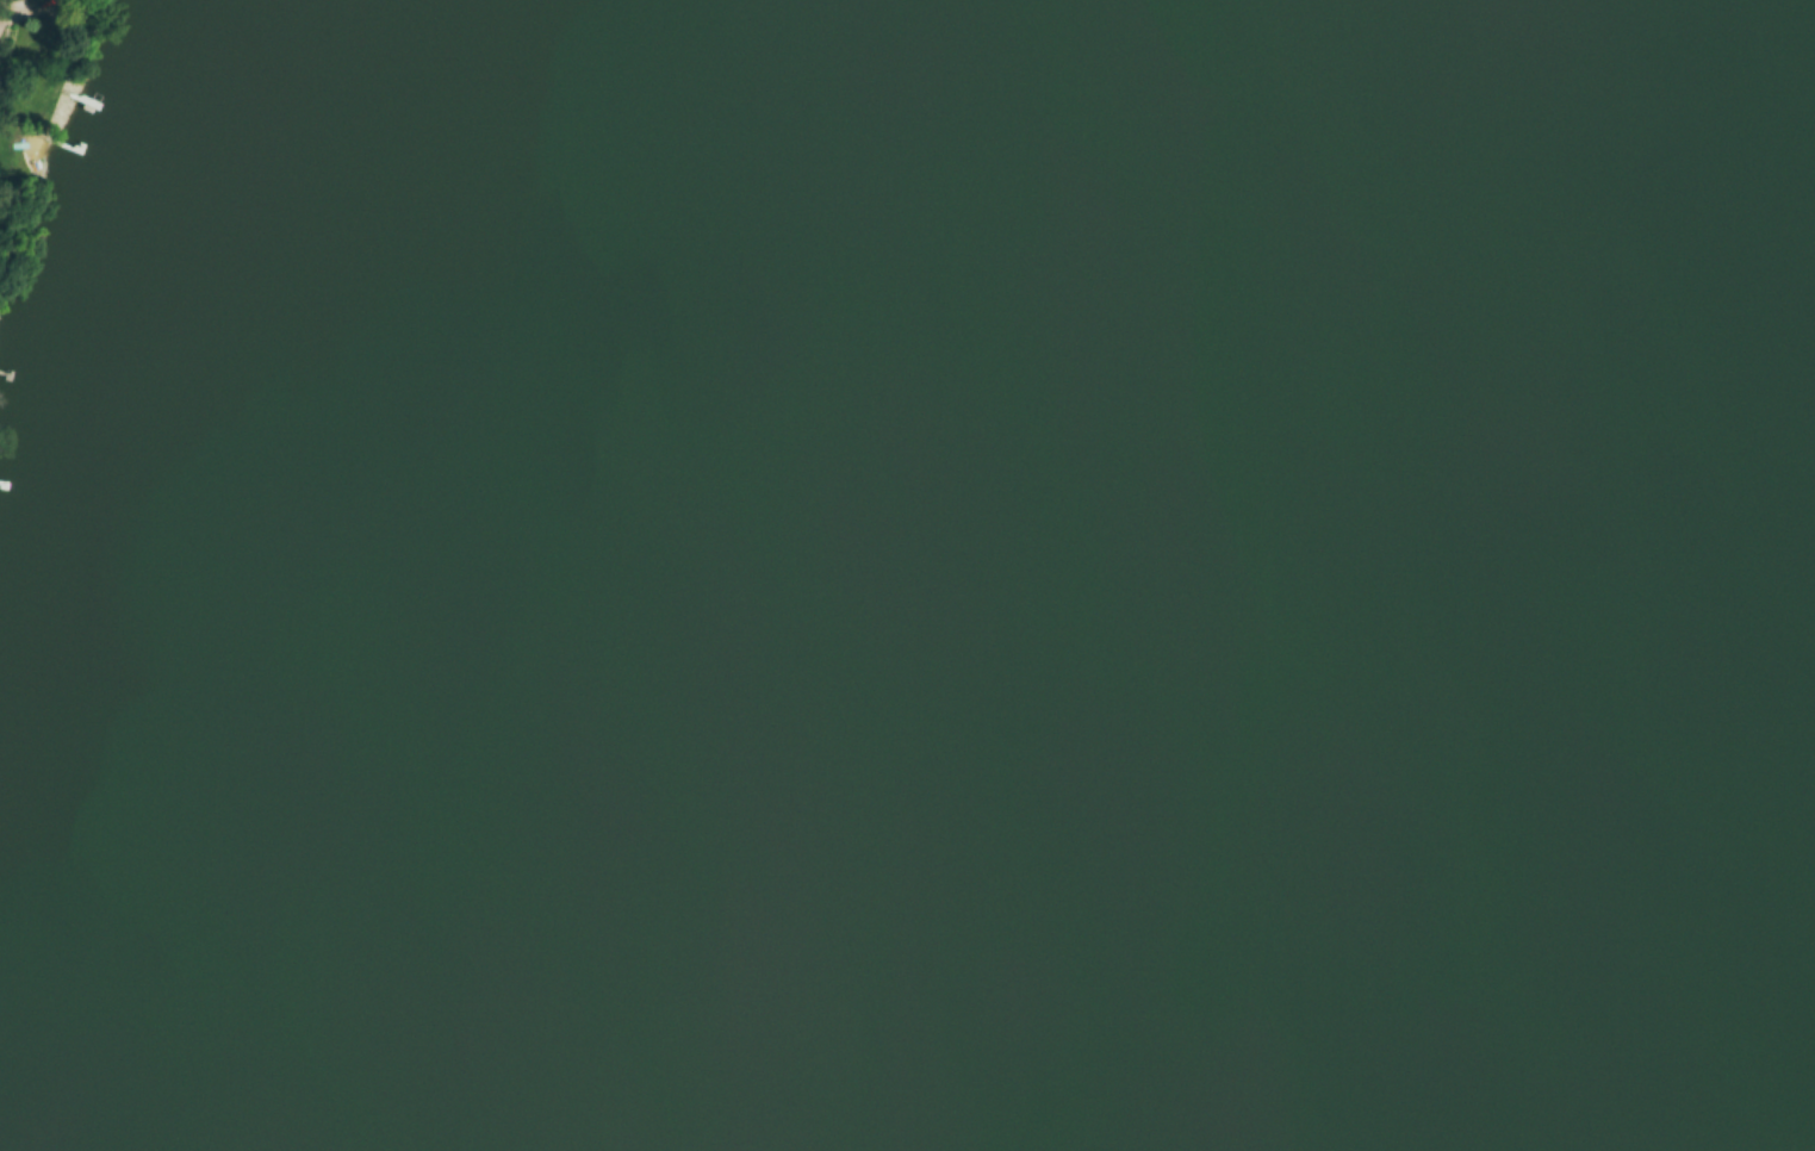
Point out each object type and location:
river: (1125, 572)

